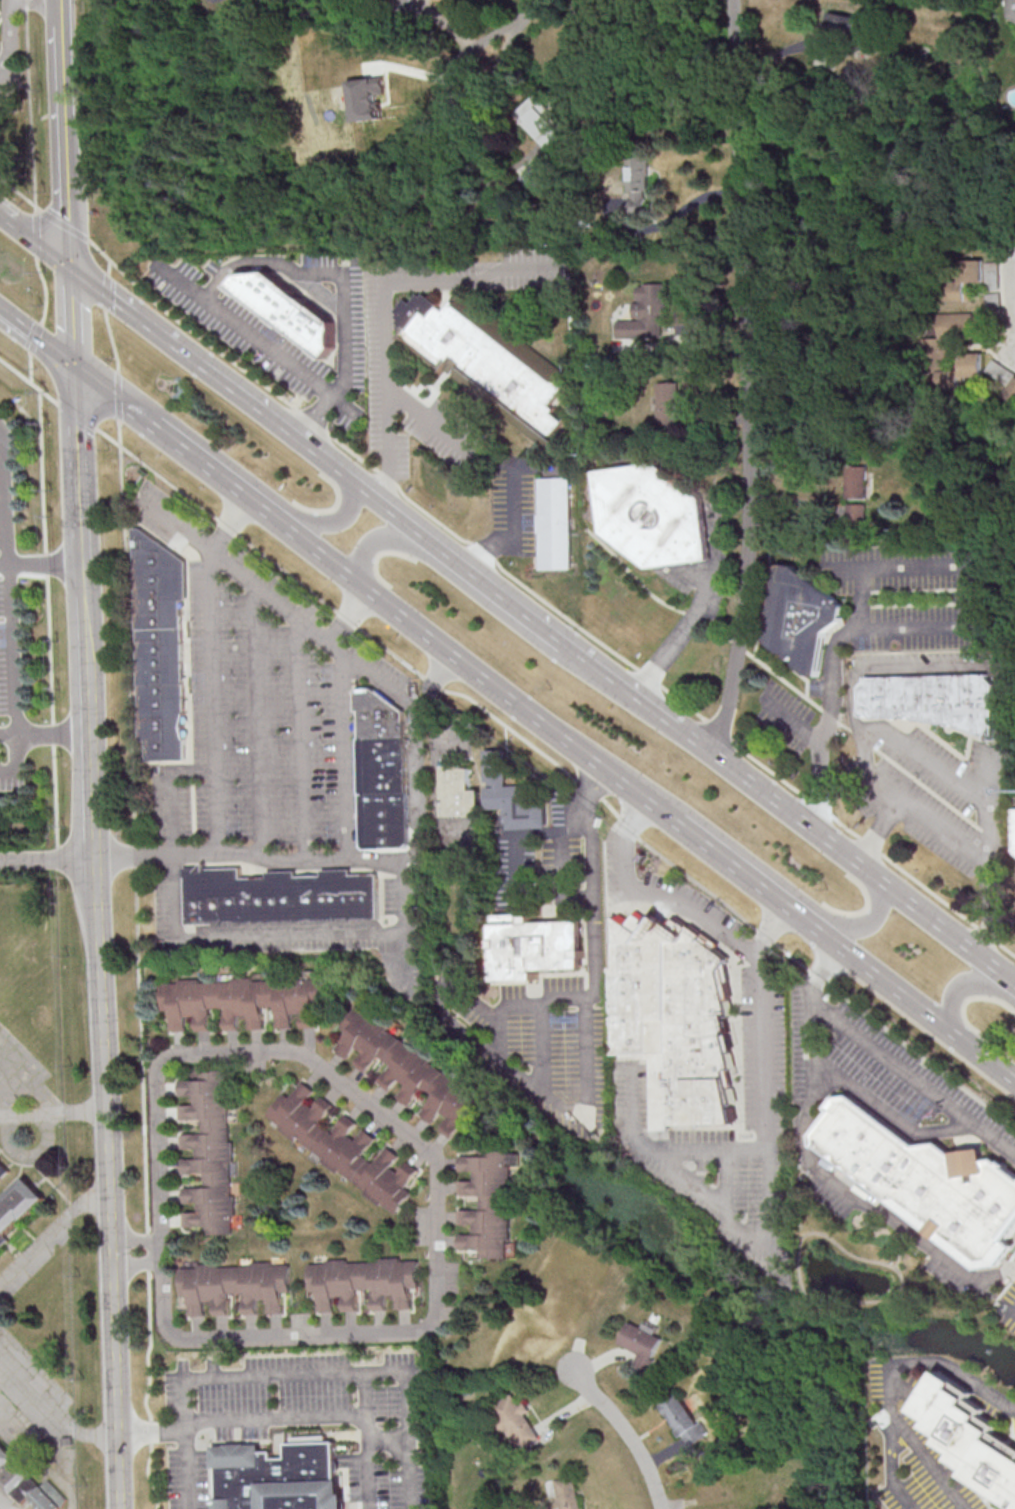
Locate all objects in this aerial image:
road: (148, 0)
building: (408, 0)
building: (1009, 9)
building: (842, 24)
road: (8, 33)
road: (496, 41)
building: (367, 97)
building: (538, 120)
road: (62, 136)
building: (637, 184)
road: (18, 192)
road: (62, 223)
road: (35, 246)
road: (102, 254)
traffic signals: (71, 273)
building: (963, 277)
road: (306, 284)
building: (990, 285)
road: (104, 290)
road: (384, 305)
building: (644, 313)
building: (287, 314)
road: (72, 320)
road: (1013, 329)
road: (36, 337)
road: (110, 338)
road: (265, 345)
building: (932, 346)
road: (184, 356)
building: (486, 362)
traffic signals: (74, 367)
road: (15, 370)
building: (998, 371)
road: (752, 378)
building: (1011, 390)
road: (116, 394)
road: (49, 396)
road: (113, 396)
building: (667, 403)
road: (74, 415)
road: (431, 420)
road: (42, 423)
road: (78, 467)
road: (219, 474)
building: (856, 481)
road: (363, 492)
road: (7, 498)
building: (856, 512)
building: (654, 517)
road: (714, 520)
road: (328, 521)
road: (228, 522)
building: (556, 524)
road: (513, 532)
road: (383, 538)
road: (450, 556)
road: (46, 564)
road: (5, 565)
road: (236, 568)
road: (510, 601)
road: (558, 610)
road: (856, 611)
road: (350, 613)
building: (803, 620)
road: (908, 627)
building: (158, 647)
road: (967, 668)
road: (611, 679)
road: (490, 680)
road: (14, 687)
road: (398, 692)
building: (933, 702)
road: (255, 718)
road: (8, 735)
road: (299, 737)
road: (821, 751)
road: (16, 761)
road: (562, 767)
building: (381, 771)
road: (589, 792)
building: (460, 794)
building: (512, 798)
road: (984, 806)
road: (416, 816)
road: (639, 822)
building: (1014, 824)
road: (515, 848)
road: (237, 851)
road: (155, 853)
road: (839, 853)
road: (48, 857)
road: (563, 870)
road: (757, 884)
building: (278, 896)
road: (594, 907)
road: (991, 910)
road: (861, 925)
road: (223, 938)
road: (774, 938)
building: (535, 946)
road: (407, 960)
road: (136, 966)
road: (1010, 985)
road: (963, 988)
building: (241, 1000)
road: (917, 1005)
building: (672, 1016)
road: (499, 1036)
road: (102, 1038)
road: (485, 1044)
road: (542, 1047)
road: (886, 1059)
building: (412, 1073)
road: (866, 1095)
road: (52, 1112)
road: (772, 1128)
building: (343, 1147)
road: (716, 1150)
building: (207, 1152)
building: (3, 1169)
building: (925, 1180)
road: (727, 1181)
building: (489, 1203)
building: (17, 1205)
road: (872, 1206)
road: (49, 1230)
road: (161, 1251)
building: (364, 1281)
building: (235, 1285)
road: (397, 1333)
building: (642, 1344)
road: (305, 1372)
road: (887, 1381)
road: (11, 1399)
road: (45, 1414)
building: (515, 1419)
building: (683, 1419)
road: (303, 1421)
road: (629, 1433)
building: (969, 1435)
road: (390, 1438)
road: (370, 1463)
road: (891, 1467)
road: (188, 1468)
building: (14, 1475)
building: (276, 1477)
building: (567, 1493)
building: (48, 1496)
road: (5, 1504)

